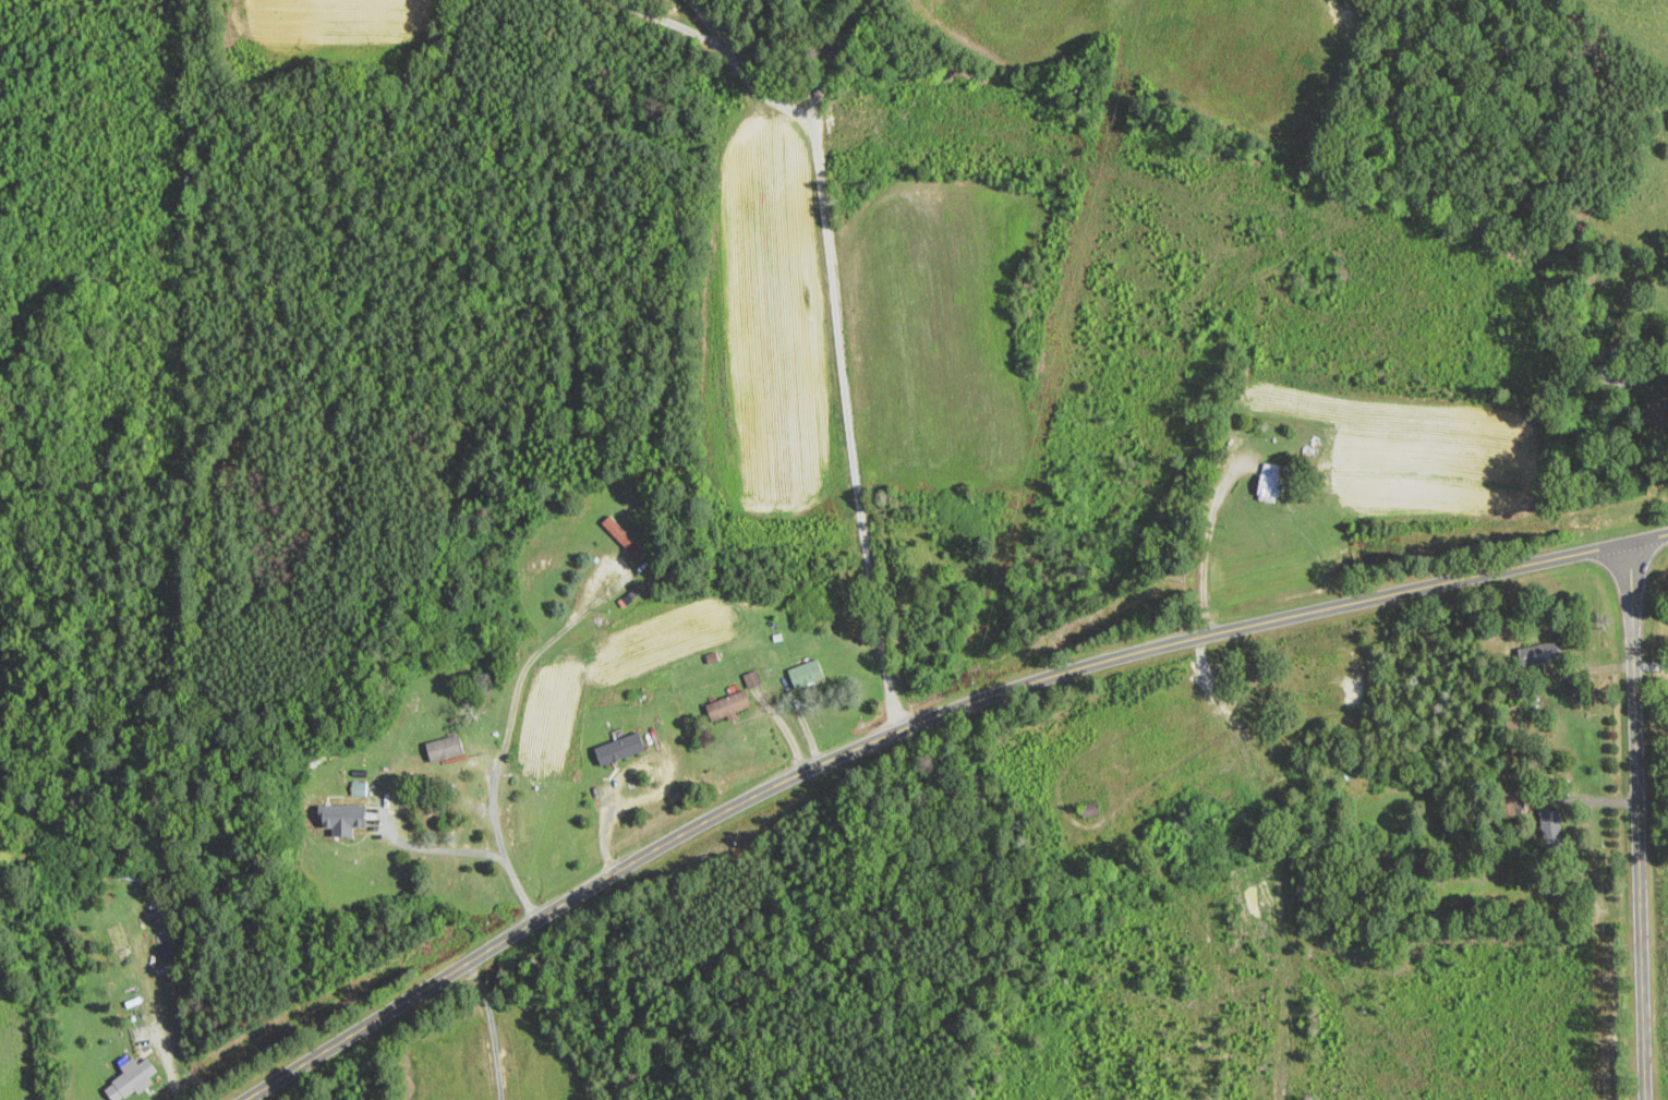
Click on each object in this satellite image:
road: (670, 22)
road: (818, 32)
road: (742, 70)
building: (1618, 330)
road: (835, 362)
building: (1610, 378)
road: (1661, 433)
building: (1270, 483)
building: (611, 583)
building: (1540, 653)
building: (806, 674)
building: (752, 679)
building: (728, 705)
road: (921, 723)
road: (506, 738)
building: (445, 748)
building: (619, 749)
building: (1090, 808)
road: (606, 813)
building: (345, 814)
road: (1633, 818)
building: (1551, 830)
road: (438, 849)
building: (132, 875)

